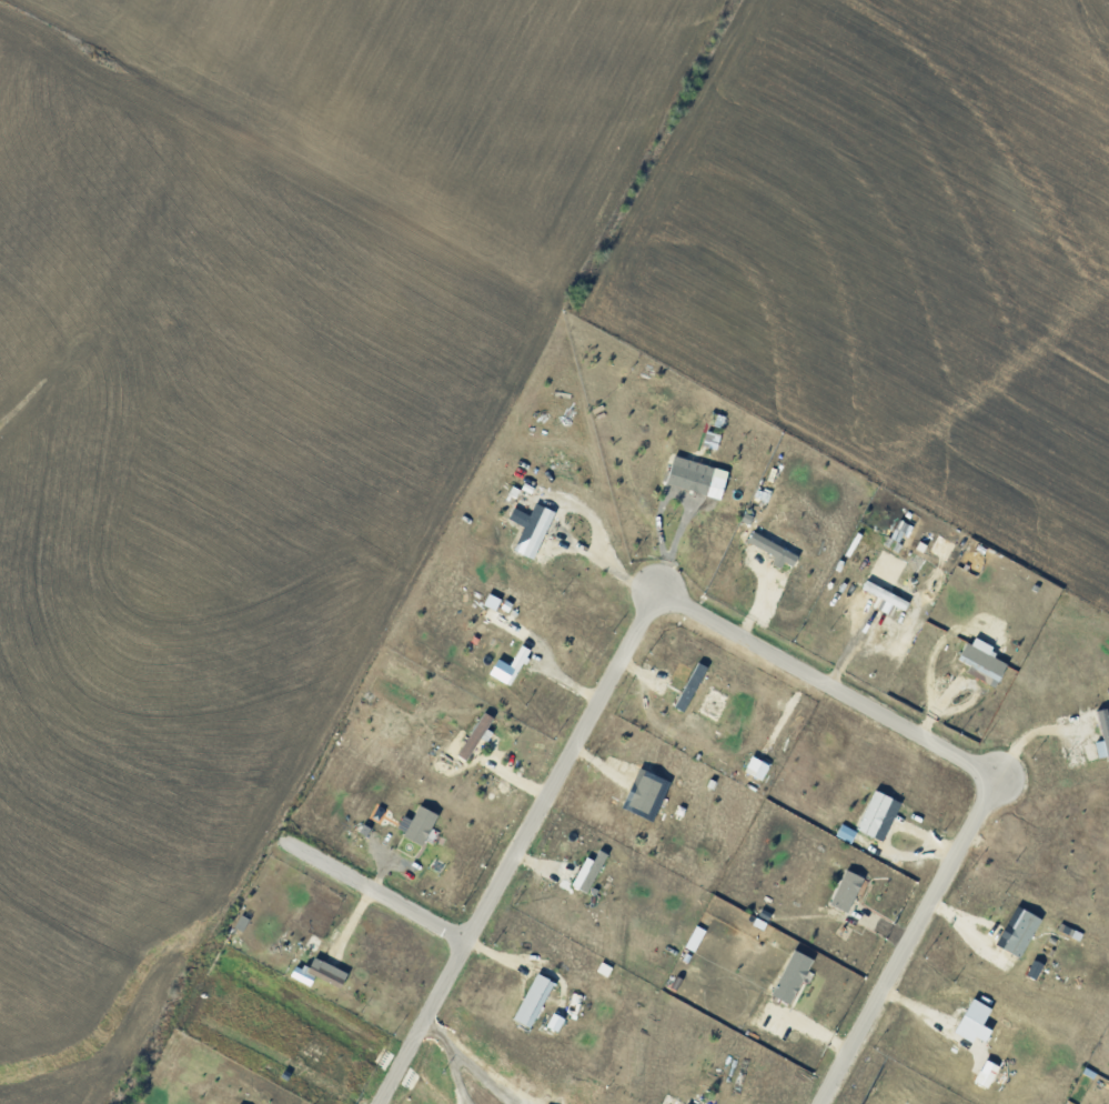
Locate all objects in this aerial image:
building: (693, 473)
building: (541, 532)
building: (775, 549)
building: (888, 595)
road: (739, 632)
building: (984, 660)
building: (693, 685)
building: (1103, 733)
building: (477, 734)
road: (1037, 735)
building: (758, 766)
building: (646, 792)
building: (876, 812)
building: (420, 823)
building: (591, 871)
building: (849, 890)
road: (380, 891)
building: (1025, 932)
road: (530, 962)
building: (321, 972)
building: (794, 975)
building: (538, 1001)
building: (556, 1021)
building: (977, 1021)
road: (437, 1034)
road: (481, 1073)
road: (455, 1075)

